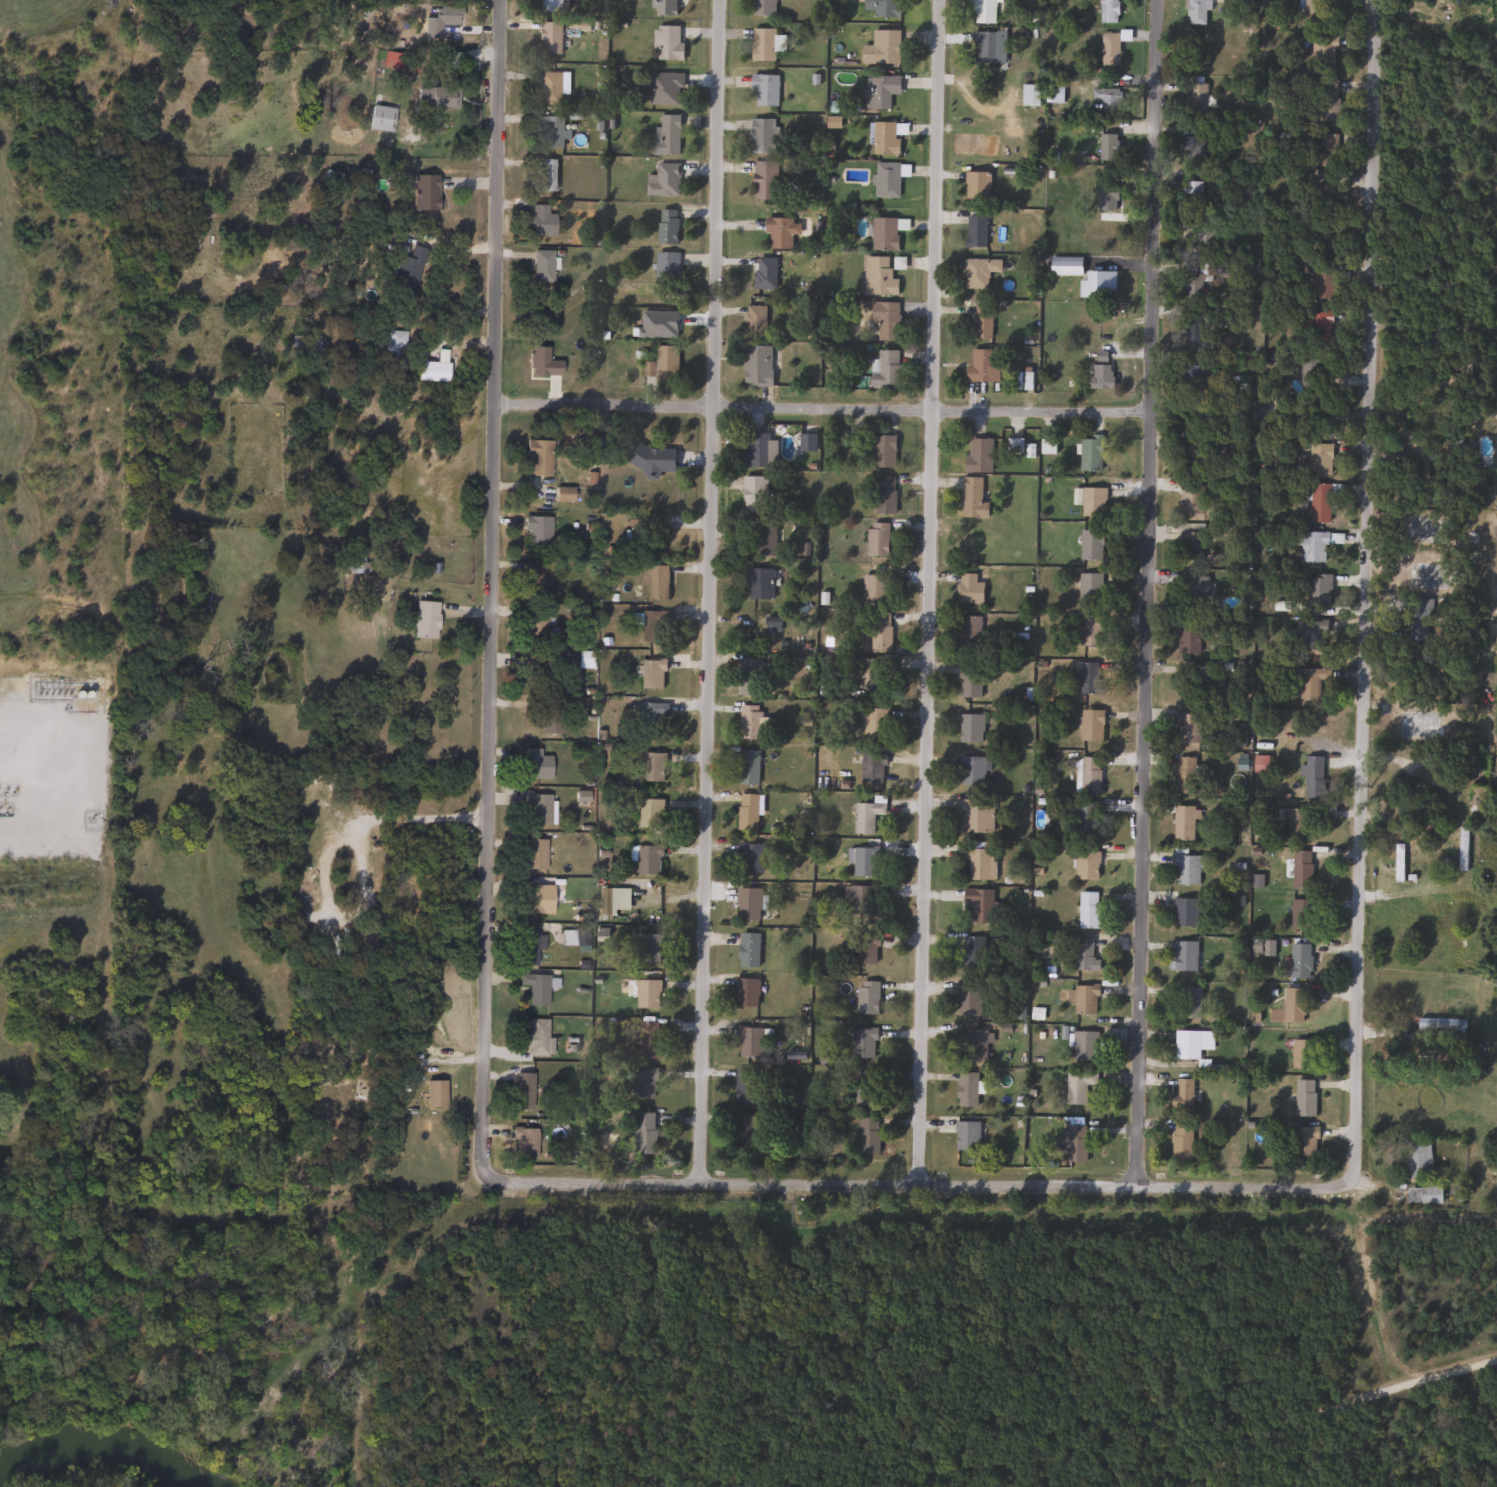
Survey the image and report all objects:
building: (1220, 0)
building: (553, 5)
building: (762, 7)
building: (885, 8)
building: (1107, 11)
building: (1195, 12)
building: (1314, 12)
building: (438, 21)
building: (549, 39)
building: (666, 42)
building: (762, 45)
building: (987, 47)
building: (879, 48)
building: (1108, 48)
building: (1323, 50)
building: (550, 88)
building: (661, 88)
building: (764, 90)
building: (879, 91)
building: (437, 97)
building: (1106, 99)
building: (1197, 99)
building: (1326, 100)
building: (380, 119)
building: (550, 132)
building: (762, 135)
building: (666, 136)
building: (884, 137)
building: (1106, 146)
building: (1193, 149)
building: (1326, 149)
building: (543, 174)
building: (329, 179)
building: (662, 179)
building: (886, 179)
building: (762, 180)
building: (1328, 183)
building: (975, 185)
building: (423, 192)
building: (1192, 194)
building: (1106, 197)
building: (538, 224)
building: (665, 225)
building: (779, 231)
building: (885, 231)
building: (974, 231)
building: (1203, 239)
building: (1064, 265)
building: (539, 266)
building: (665, 268)
building: (405, 269)
building: (977, 271)
building: (763, 272)
building: (877, 276)
building: (1322, 281)
building: (1097, 283)
building: (1190, 286)
building: (754, 321)
building: (883, 321)
building: (980, 322)
building: (1316, 325)
building: (1190, 330)
building: (302, 344)
building: (389, 350)
building: (662, 362)
building: (756, 365)
building: (981, 365)
building: (884, 369)
building: (430, 371)
building: (1310, 373)
building: (1100, 375)
building: (1192, 378)
road: (929, 410)
building: (1192, 449)
building: (756, 450)
building: (882, 451)
building: (1089, 453)
building: (977, 456)
building: (536, 457)
building: (651, 458)
building: (1319, 458)
building: (562, 494)
building: (753, 494)
building: (883, 494)
building: (971, 499)
building: (1190, 499)
building: (1091, 501)
building: (1320, 502)
building: (536, 530)
building: (638, 537)
building: (764, 537)
building: (876, 539)
building: (1190, 544)
building: (1315, 544)
building: (1090, 545)
building: (530, 579)
building: (652, 582)
building: (757, 582)
building: (1088, 587)
road: (1362, 588)
building: (873, 589)
building: (969, 589)
building: (1194, 589)
building: (1317, 590)
road: (491, 591)
road: (710, 591)
road: (930, 592)
road: (1148, 593)
building: (425, 620)
building: (534, 625)
building: (652, 626)
building: (1089, 630)
building: (969, 633)
building: (1313, 634)
building: (875, 636)
building: (1189, 638)
building: (868, 672)
building: (545, 673)
building: (650, 674)
building: (751, 676)
building: (1089, 679)
building: (968, 681)
building: (1198, 681)
building: (1310, 681)
building: (548, 720)
building: (648, 720)
building: (748, 722)
building: (872, 722)
building: (1090, 725)
building: (1185, 728)
building: (970, 729)
road: (44, 745)
building: (535, 765)
building: (651, 767)
building: (870, 767)
building: (746, 768)
building: (971, 771)
building: (1088, 775)
building: (1184, 775)
building: (1312, 776)
building: (535, 807)
building: (649, 813)
building: (746, 813)
building: (866, 814)
building: (975, 815)
building: (1086, 818)
building: (1182, 822)
building: (1294, 823)
building: (1461, 848)
road: (328, 854)
building: (532, 854)
building: (749, 857)
building: (648, 860)
building: (978, 862)
building: (1397, 862)
building: (863, 863)
building: (1085, 865)
building: (1185, 869)
building: (1300, 869)
building: (534, 900)
building: (605, 901)
building: (857, 903)
building: (747, 904)
building: (978, 905)
building: (1087, 910)
building: (1184, 912)
building: (1301, 913)
building: (527, 946)
building: (646, 949)
building: (863, 949)
building: (748, 950)
building: (972, 953)
building: (1083, 955)
building: (1184, 956)
building: (1299, 961)
building: (536, 987)
building: (745, 992)
building: (646, 993)
building: (867, 998)
building: (1083, 999)
building: (967, 1001)
building: (1188, 1004)
building: (1293, 1005)
building: (1440, 1031)
building: (537, 1038)
building: (647, 1040)
building: (749, 1041)
building: (972, 1042)
building: (1191, 1043)
building: (862, 1044)
building: (1083, 1045)
building: (1302, 1054)
building: (643, 1083)
building: (744, 1086)
building: (1076, 1086)
building: (864, 1088)
building: (965, 1090)
building: (521, 1091)
building: (429, 1092)
building: (1181, 1095)
building: (1304, 1098)
building: (743, 1129)
building: (644, 1134)
building: (867, 1135)
building: (966, 1135)
building: (1180, 1141)
building: (1071, 1142)
building: (523, 1143)
building: (1417, 1160)
road: (923, 1185)
building: (1422, 1196)
road: (1334, 1404)
river: (103, 1445)

